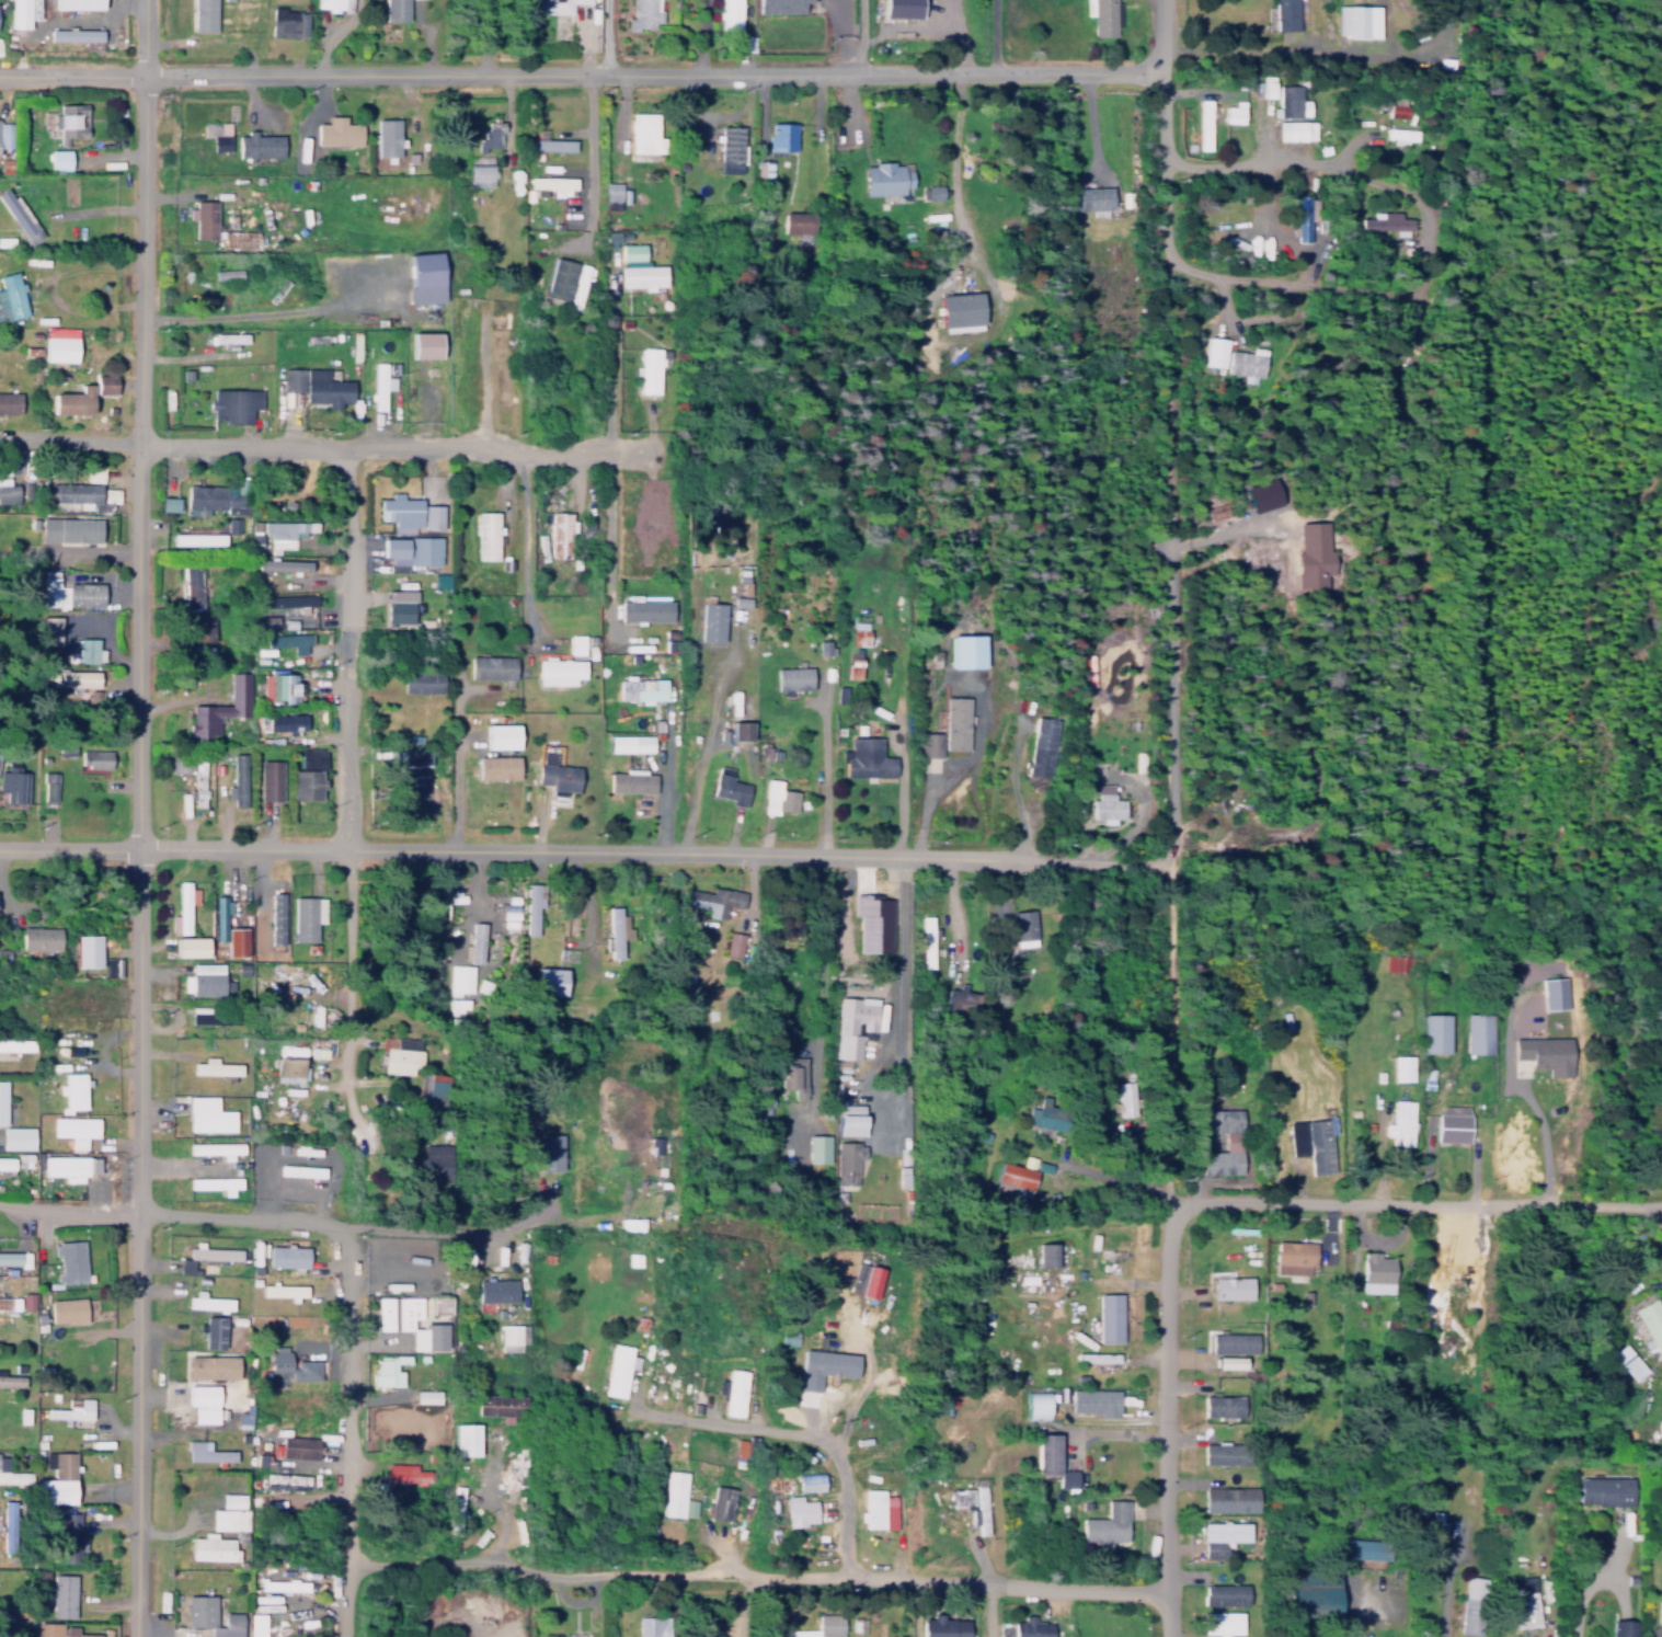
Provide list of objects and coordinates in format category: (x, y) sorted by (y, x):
building: (558, 5)
building: (782, 5)
building: (903, 9)
building: (396, 10)
building: (19, 13)
building: (730, 13)
building: (644, 14)
building: (203, 15)
building: (1281, 15)
building: (1097, 16)
building: (1353, 20)
building: (288, 22)
building: (77, 34)
road: (147, 35)
road: (606, 37)
road: (1148, 37)
road: (73, 71)
road: (647, 73)
building: (1283, 99)
building: (1229, 112)
building: (74, 118)
building: (1199, 124)
building: (643, 127)
building: (1396, 127)
building: (340, 129)
building: (1291, 129)
building: (493, 133)
building: (388, 134)
building: (783, 134)
building: (218, 135)
building: (261, 141)
building: (3, 144)
building: (551, 144)
building: (731, 144)
building: (60, 159)
road: (593, 162)
road: (1345, 168)
building: (760, 169)
road: (955, 169)
building: (480, 171)
building: (887, 175)
building: (554, 184)
building: (610, 192)
building: (1093, 195)
building: (22, 214)
building: (205, 216)
building: (1302, 217)
building: (800, 219)
building: (1380, 221)
building: (616, 236)
building: (243, 239)
building: (632, 251)
road: (145, 256)
road: (1196, 271)
building: (645, 273)
building: (227, 274)
building: (562, 275)
building: (425, 277)
building: (581, 283)
building: (10, 296)
building: (962, 309)
building: (231, 337)
building: (60, 344)
building: (425, 345)
building: (1211, 352)
building: (1242, 364)
building: (651, 367)
building: (435, 380)
building: (319, 381)
building: (382, 382)
building: (85, 396)
building: (238, 400)
building: (10, 402)
road: (71, 438)
road: (614, 438)
road: (398, 446)
building: (7, 490)
building: (74, 492)
building: (1256, 495)
building: (213, 501)
building: (170, 504)
building: (400, 512)
building: (431, 516)
building: (70, 529)
building: (642, 530)
building: (279, 531)
building: (198, 538)
road: (526, 546)
building: (413, 551)
building: (284, 560)
building: (190, 583)
building: (68, 587)
building: (746, 592)
building: (284, 600)
building: (400, 607)
building: (646, 608)
building: (712, 622)
building: (203, 625)
building: (49, 626)
building: (859, 633)
building: (288, 634)
road: (348, 644)
building: (576, 644)
building: (89, 645)
building: (824, 646)
building: (970, 651)
building: (491, 667)
building: (853, 667)
building: (560, 671)
building: (74, 674)
building: (422, 676)
building: (793, 678)
building: (278, 688)
building: (642, 689)
building: (220, 702)
building: (286, 718)
building: (954, 718)
building: (742, 731)
building: (500, 732)
building: (630, 740)
building: (929, 740)
building: (64, 744)
building: (1040, 744)
building: (94, 754)
building: (866, 754)
road: (458, 756)
building: (415, 757)
building: (496, 759)
road: (824, 764)
building: (1100, 764)
building: (308, 769)
building: (555, 770)
building: (198, 775)
building: (270, 775)
building: (238, 776)
building: (631, 777)
building: (13, 779)
building: (49, 780)
building: (729, 781)
building: (781, 791)
building: (1105, 802)
road: (140, 825)
road: (70, 845)
road: (646, 848)
building: (277, 889)
building: (718, 896)
building: (532, 902)
building: (183, 903)
road: (955, 908)
building: (306, 913)
building: (219, 914)
building: (276, 918)
building: (873, 924)
building: (1021, 924)
building: (614, 928)
building: (568, 934)
building: (236, 937)
building: (39, 938)
building: (474, 938)
building: (191, 941)
building: (740, 941)
building: (926, 942)
building: (88, 951)
building: (1392, 962)
building: (460, 974)
building: (203, 975)
building: (549, 976)
road: (1154, 980)
building: (483, 982)
building: (793, 992)
road: (902, 992)
building: (1551, 992)
road: (349, 996)
building: (961, 996)
building: (457, 1001)
building: (210, 1016)
building: (853, 1024)
building: (1428, 1031)
building: (1474, 1032)
building: (16, 1046)
building: (1540, 1053)
building: (400, 1054)
building: (1397, 1067)
building: (217, 1068)
building: (289, 1071)
building: (792, 1079)
building: (73, 1090)
building: (1123, 1095)
building: (2, 1102)
building: (1045, 1111)
building: (208, 1115)
building: (1399, 1119)
building: (1451, 1119)
road: (1539, 1123)
building: (853, 1125)
building: (76, 1130)
building: (982, 1132)
building: (1230, 1136)
building: (16, 1137)
building: (1317, 1142)
building: (217, 1149)
building: (550, 1152)
building: (847, 1157)
building: (436, 1161)
building: (66, 1167)
building: (229, 1172)
building: (1015, 1175)
building: (216, 1184)
road: (1414, 1202)
road: (70, 1206)
road: (1661, 1207)
road: (240, 1215)
building: (1113, 1248)
building: (1047, 1249)
building: (1294, 1253)
building: (286, 1257)
building: (10, 1259)
building: (69, 1261)
building: (1375, 1269)
building: (861, 1279)
building: (1230, 1284)
building: (497, 1291)
building: (284, 1292)
building: (25, 1302)
building: (208, 1302)
building: (4, 1304)
building: (67, 1310)
building: (396, 1313)
building: (1109, 1313)
building: (1451, 1319)
building: (1652, 1320)
building: (213, 1331)
building: (512, 1337)
building: (783, 1337)
building: (428, 1338)
building: (1233, 1339)
building: (1098, 1354)
building: (1229, 1358)
building: (1625, 1361)
building: (821, 1362)
building: (295, 1366)
building: (214, 1367)
building: (386, 1371)
building: (11, 1381)
building: (729, 1392)
building: (1094, 1396)
building: (428, 1397)
building: (1035, 1399)
building: (1224, 1401)
building: (204, 1404)
building: (72, 1405)
building: (497, 1407)
building: (243, 1418)
road: (1167, 1419)
road: (138, 1423)
building: (13, 1427)
road: (788, 1427)
road: (348, 1431)
building: (469, 1442)
building: (207, 1447)
building: (737, 1450)
building: (1226, 1450)
building: (1052, 1456)
building: (12, 1469)
building: (511, 1469)
building: (57, 1475)
building: (405, 1475)
building: (285, 1481)
building: (804, 1481)
building: (1607, 1487)
building: (672, 1495)
building: (1229, 1495)
building: (714, 1502)
building: (970, 1504)
building: (872, 1509)
building: (794, 1510)
building: (230, 1513)
building: (1107, 1520)
building: (7, 1522)
building: (1223, 1532)
building: (1429, 1533)
building: (68, 1534)
building: (211, 1544)
building: (1366, 1545)
building: (1660, 1549)
road: (758, 1570)
road: (1589, 1583)
building: (280, 1586)
building: (1224, 1590)
building: (61, 1591)
building: (1313, 1594)
building: (1470, 1600)
building: (1660, 1602)
building: (1524, 1610)
building: (213, 1615)
building: (1220, 1619)
building: (645, 1624)
building: (942, 1625)
building: (811, 1626)
building: (1030, 1626)
building: (1624, 1626)
building: (47, 1627)
building: (78, 1632)

